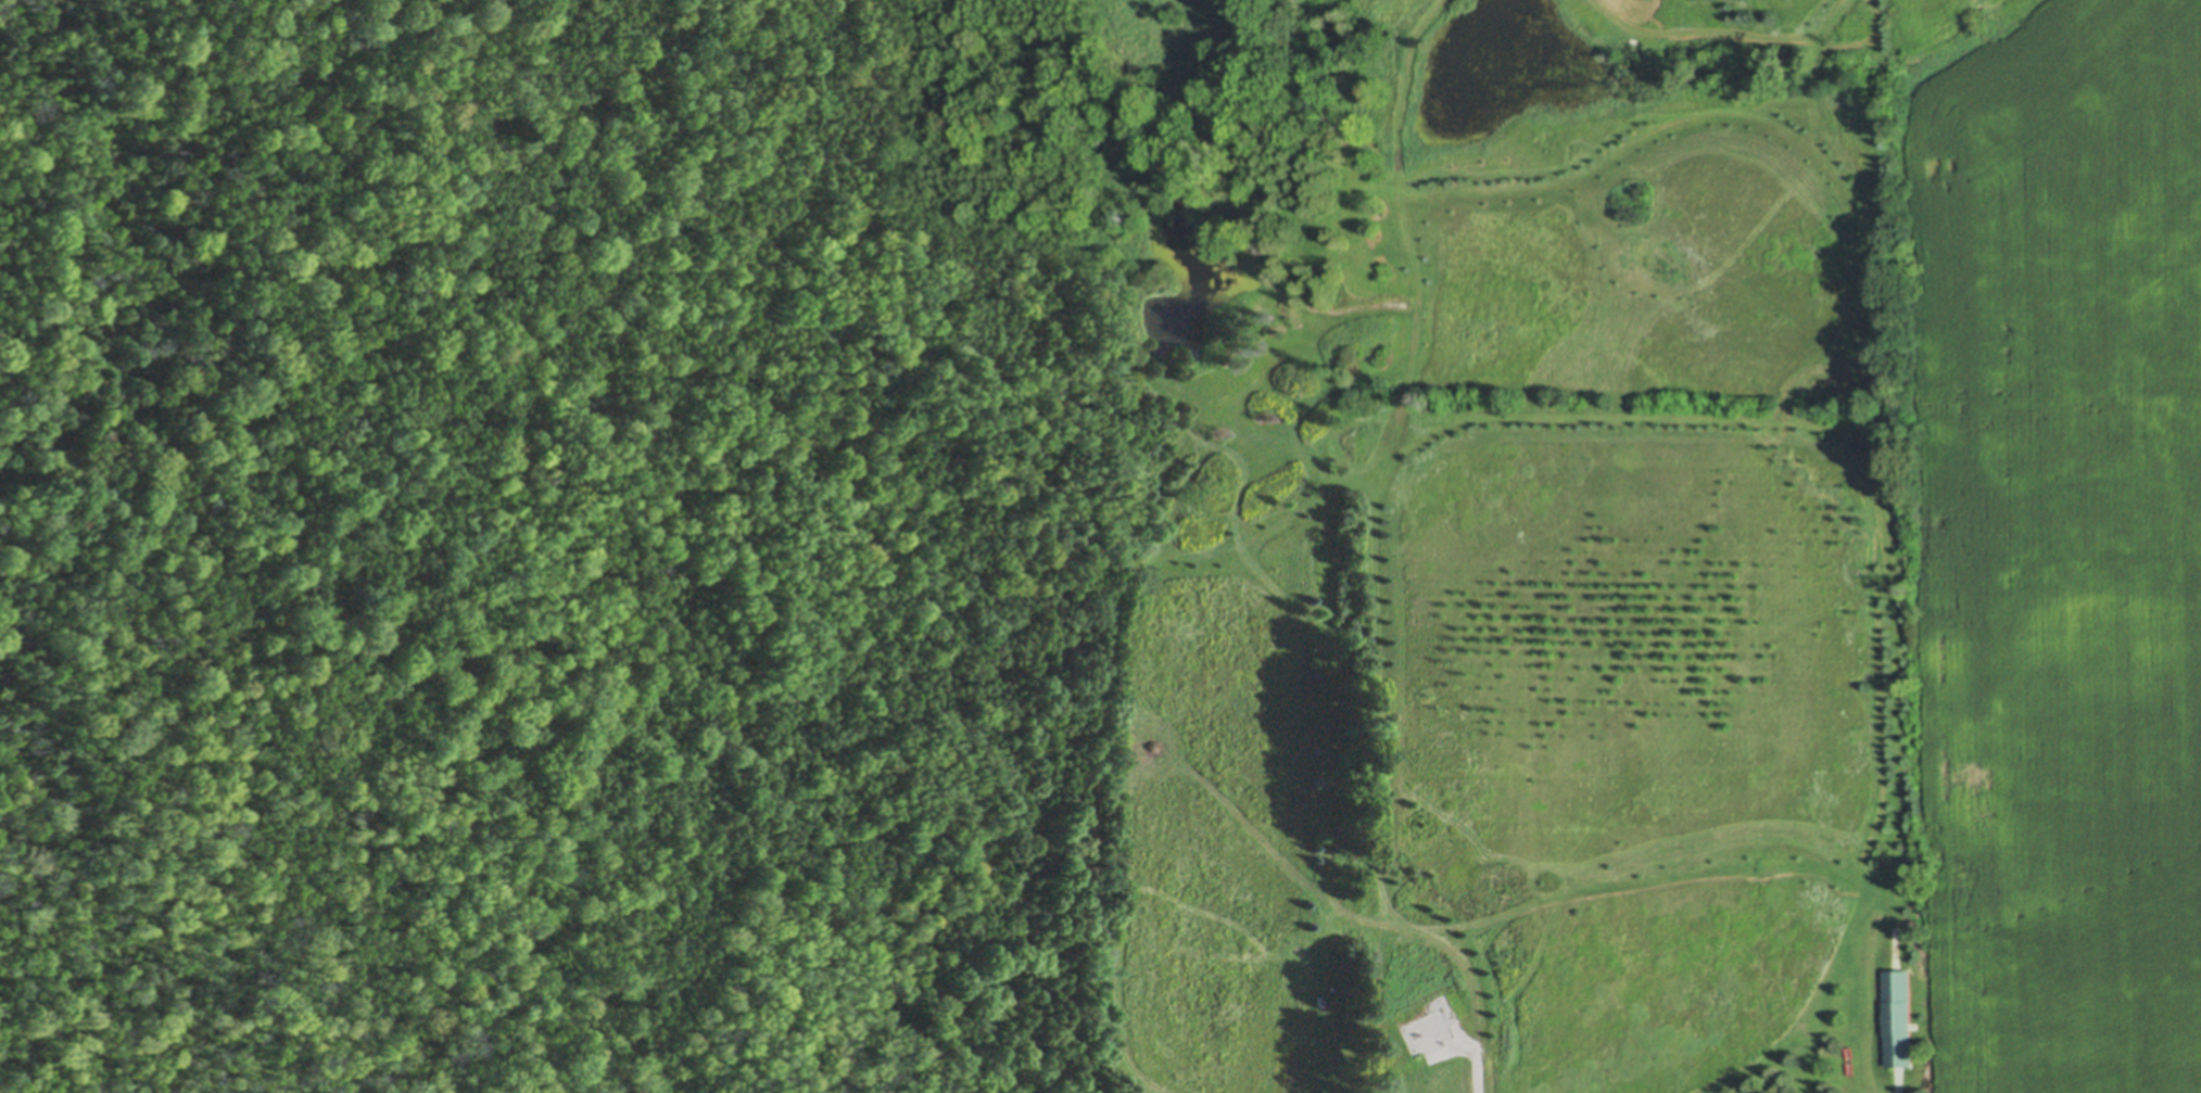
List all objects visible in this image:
building: (1897, 1017)

